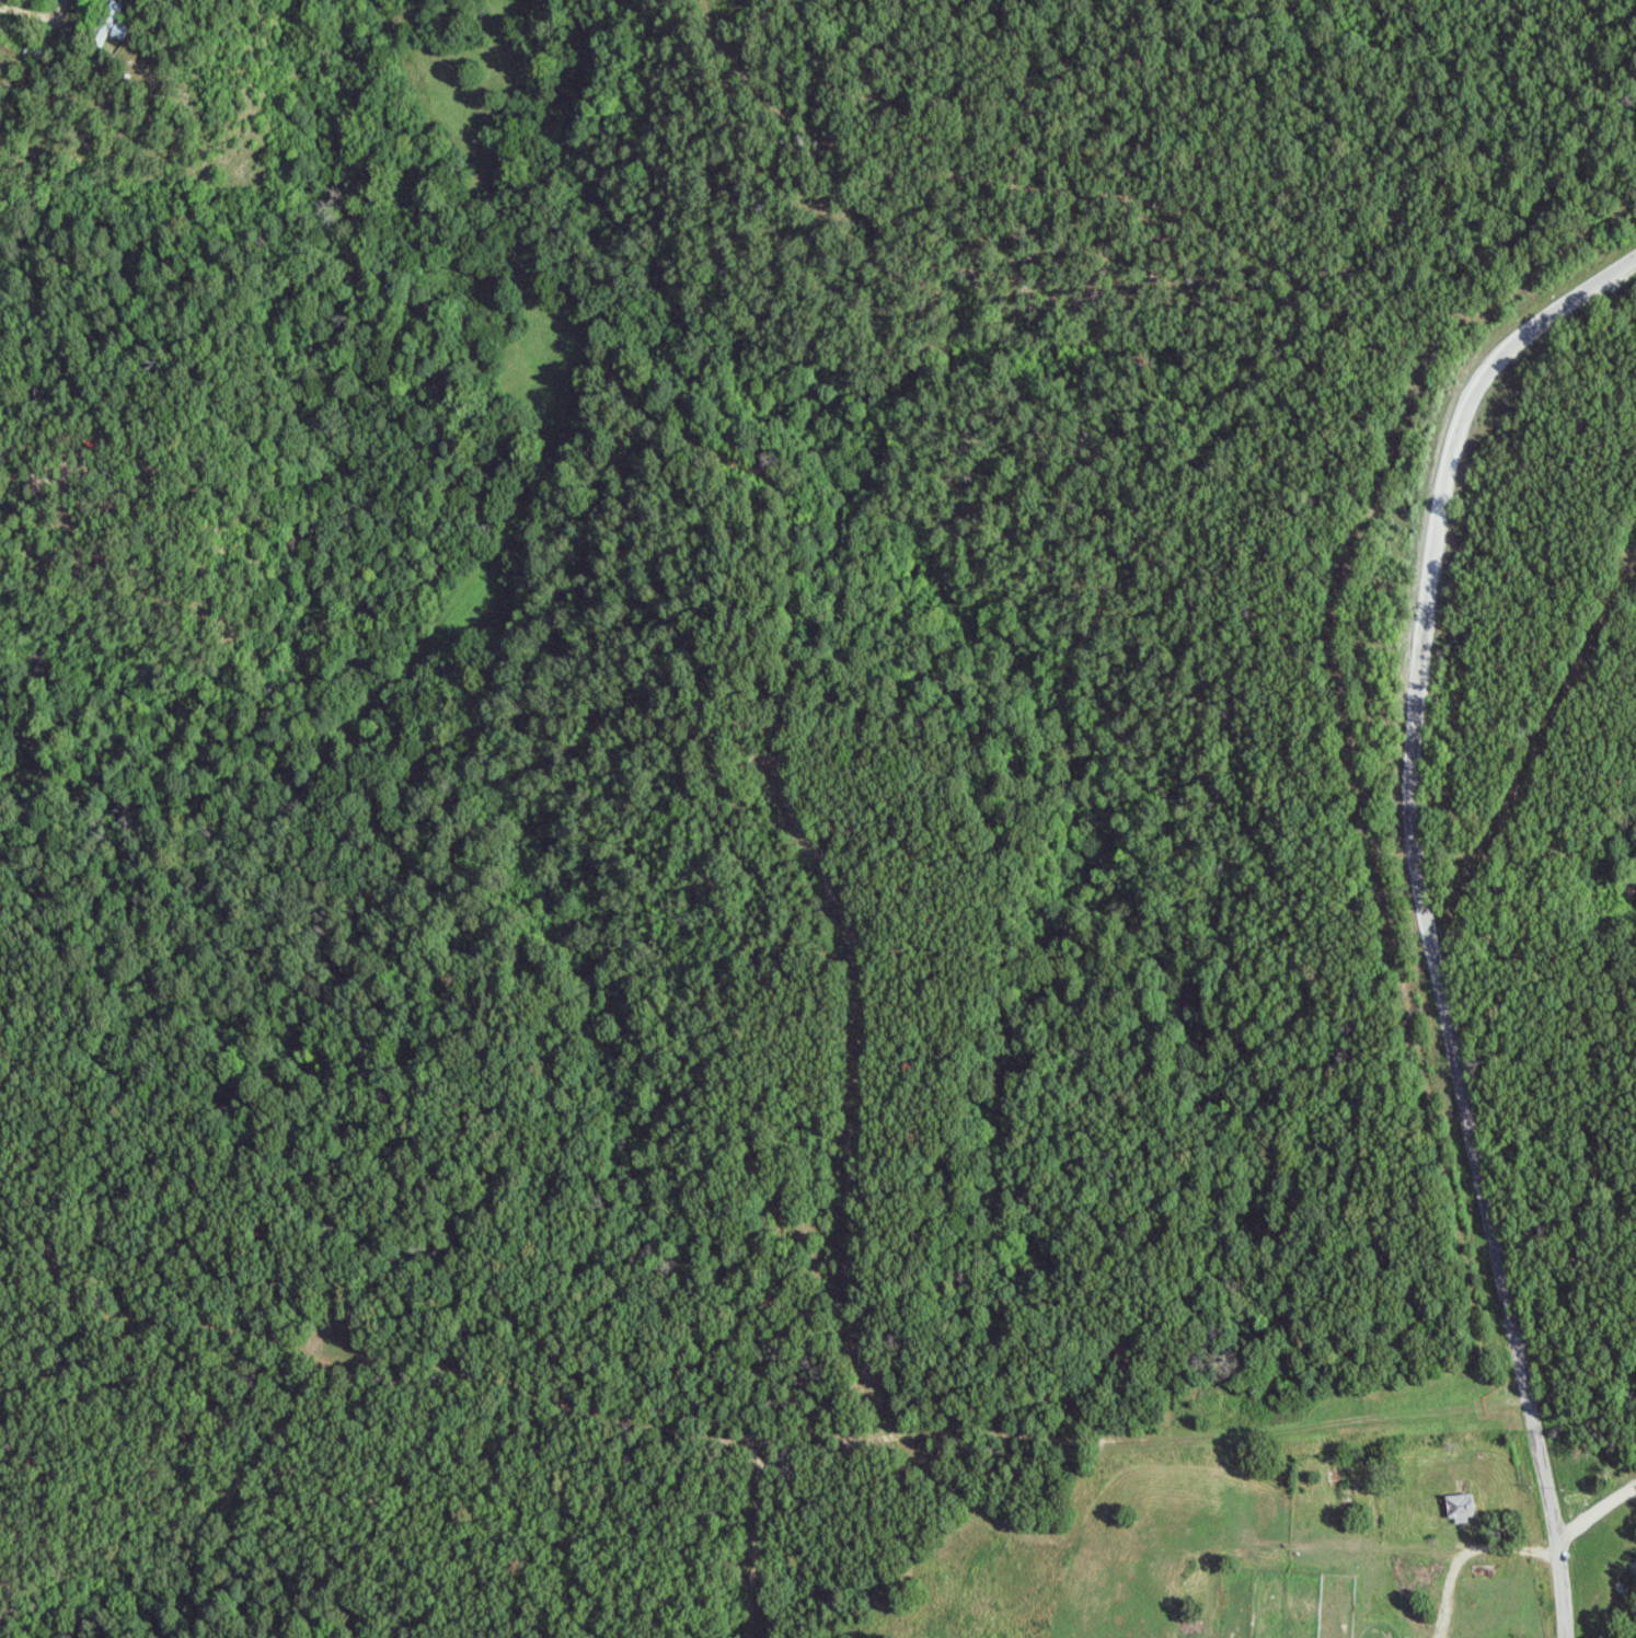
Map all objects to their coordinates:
building: (113, 12)
building: (119, 32)
road: (1429, 913)
building: (1461, 1507)
road: (1598, 1514)
road: (1474, 1554)

